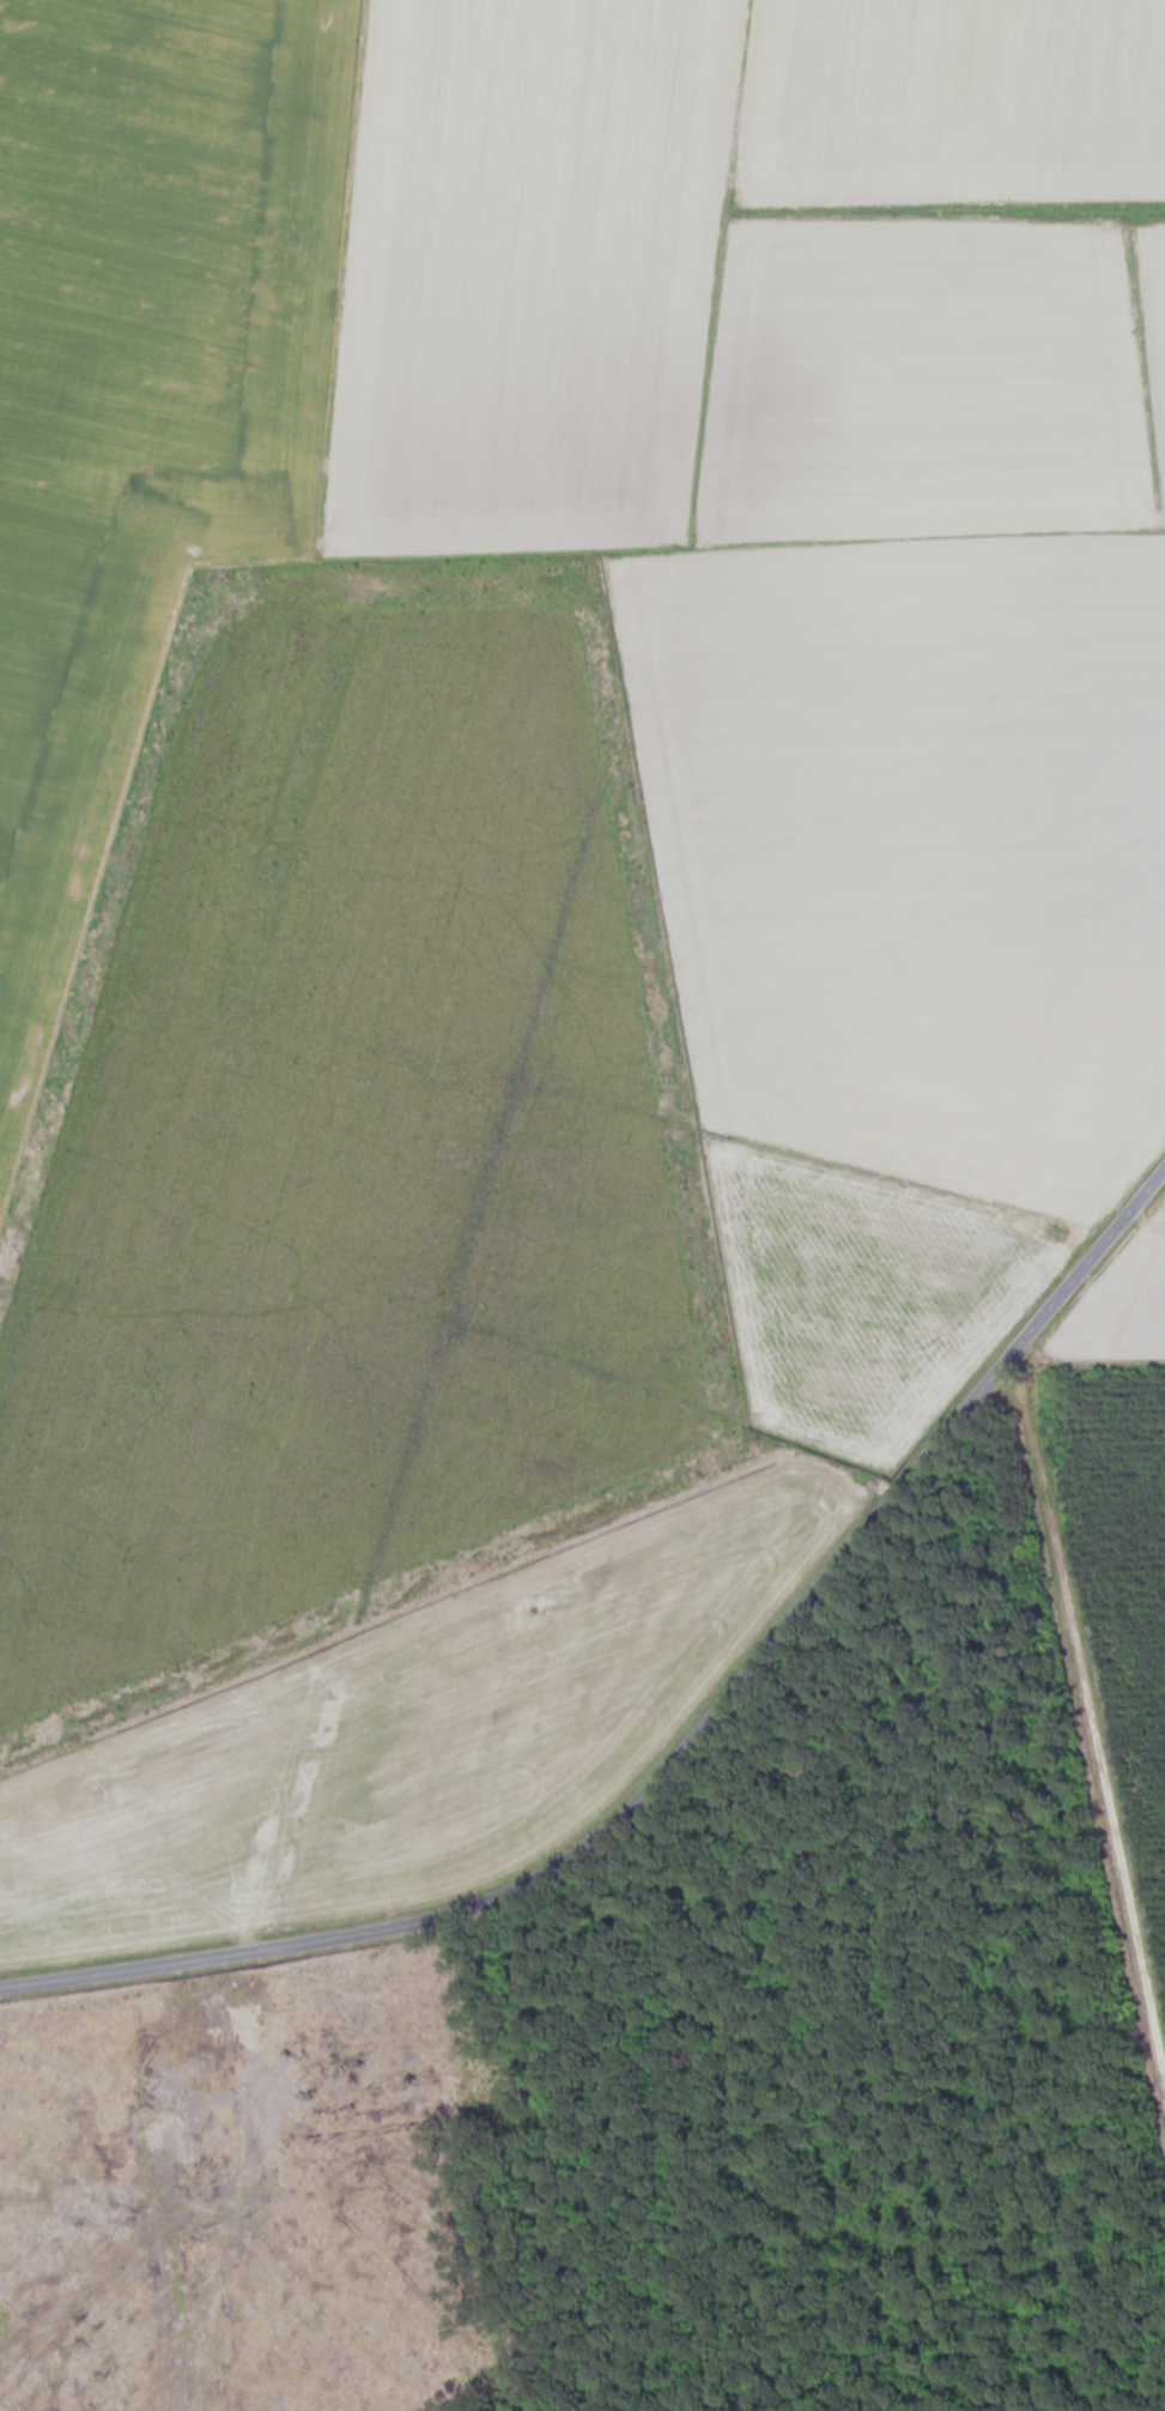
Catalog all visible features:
road: (686, 1748)
road: (1088, 1794)

